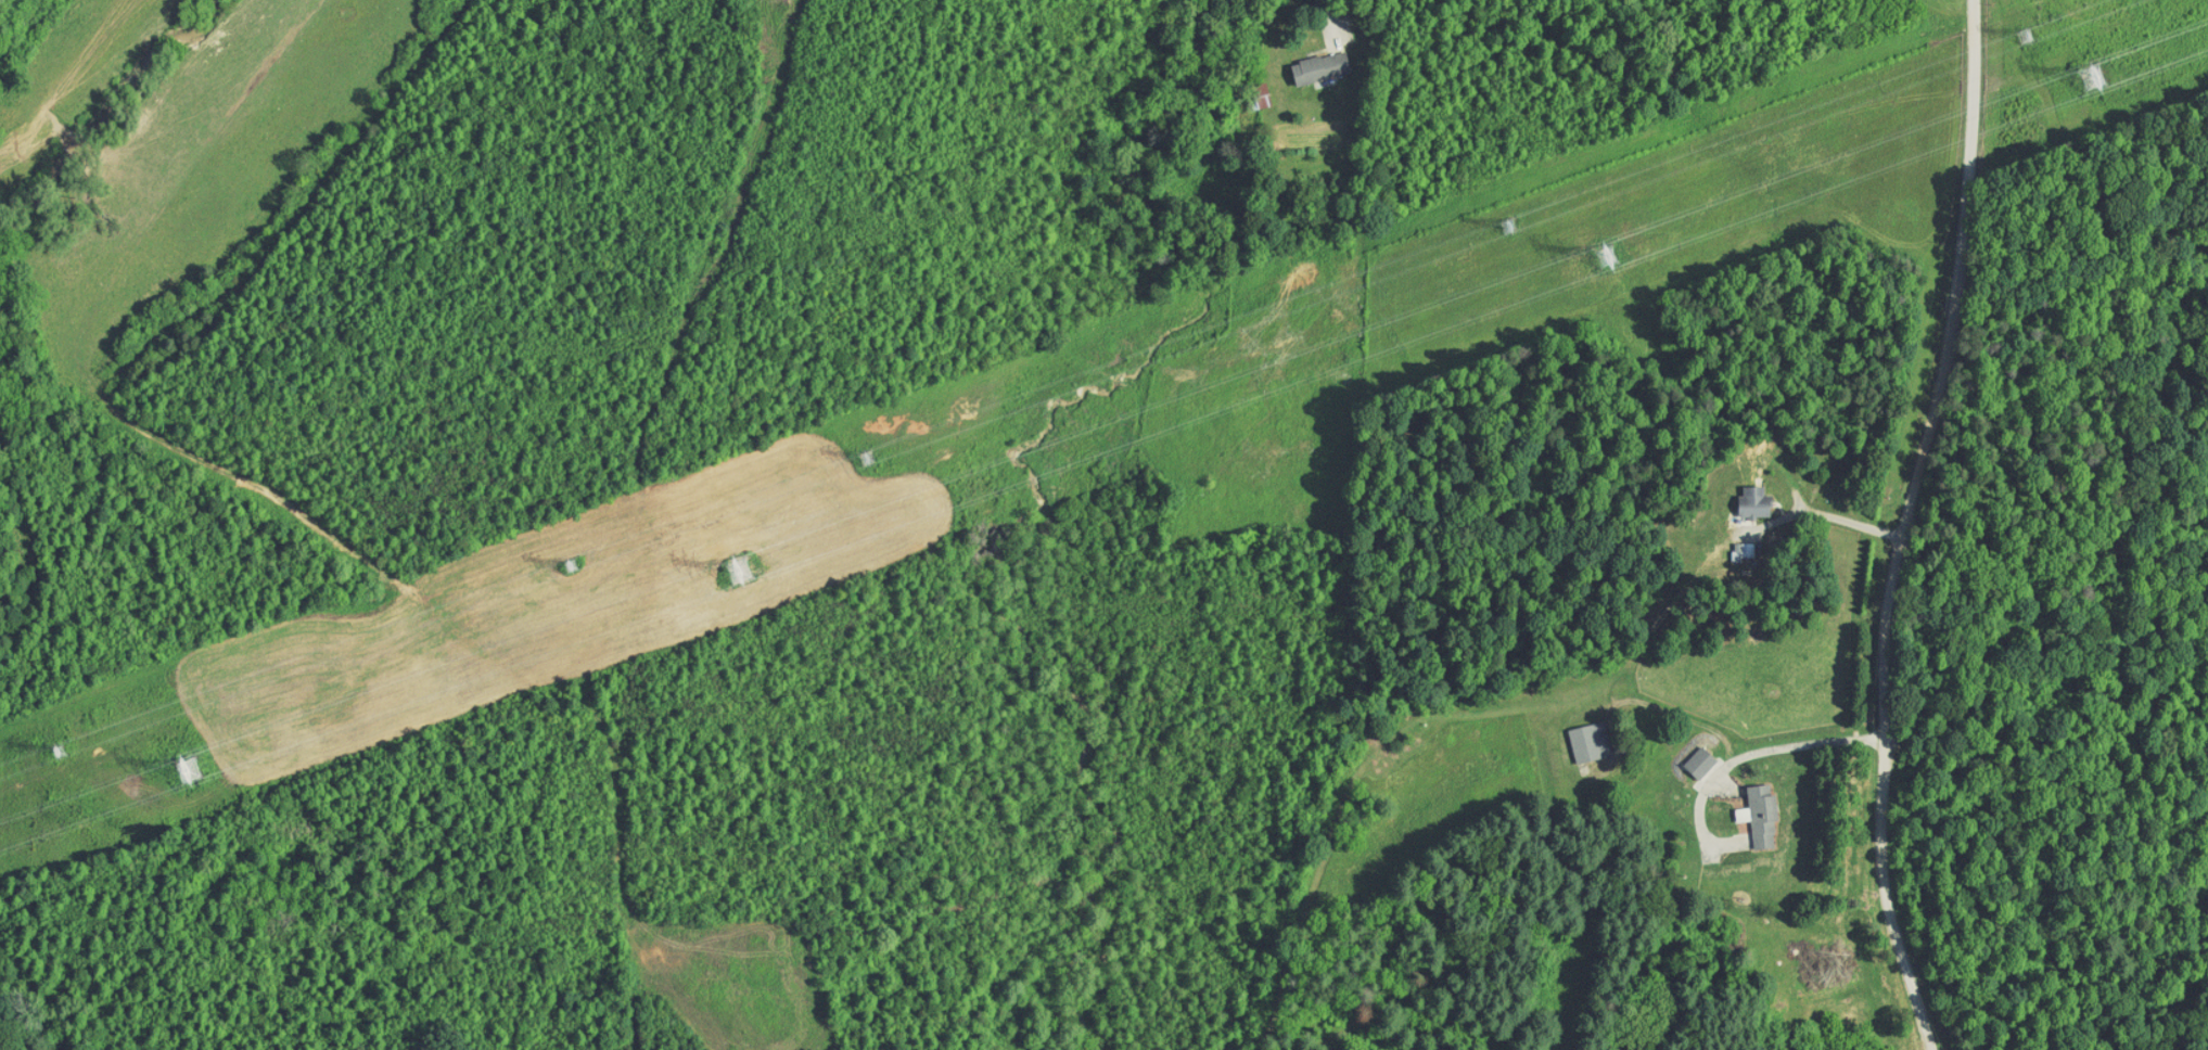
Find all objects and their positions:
power tower: (2025, 38)
building: (1307, 61)
power tower: (2093, 71)
building: (1249, 88)
power tower: (1506, 225)
power tower: (1599, 257)
power tower: (864, 460)
building: (1739, 495)
road: (1827, 514)
road: (1903, 524)
power tower: (571, 566)
power tower: (735, 568)
building: (1578, 734)
road: (1759, 752)
power tower: (55, 754)
building: (1686, 755)
power tower: (181, 772)
building: (1747, 809)

